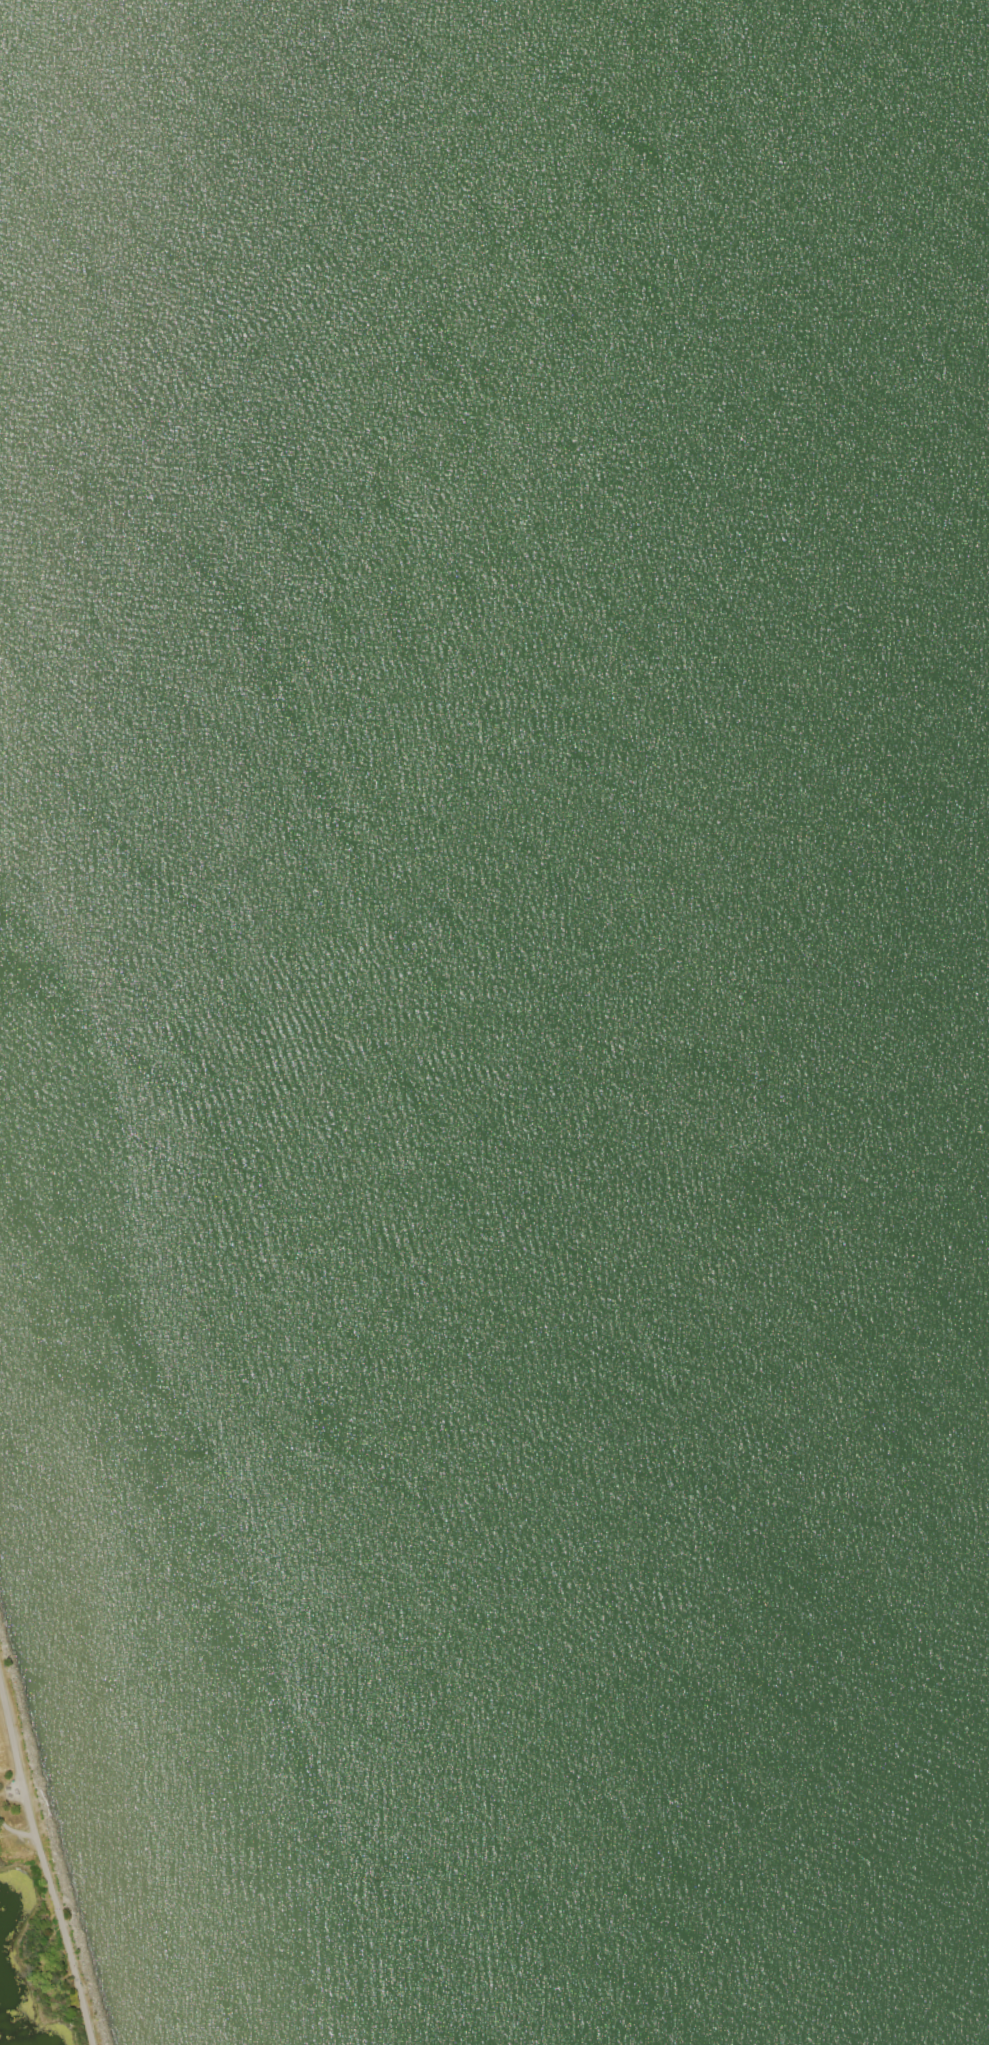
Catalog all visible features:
road: (17, 1829)
road: (46, 1860)

